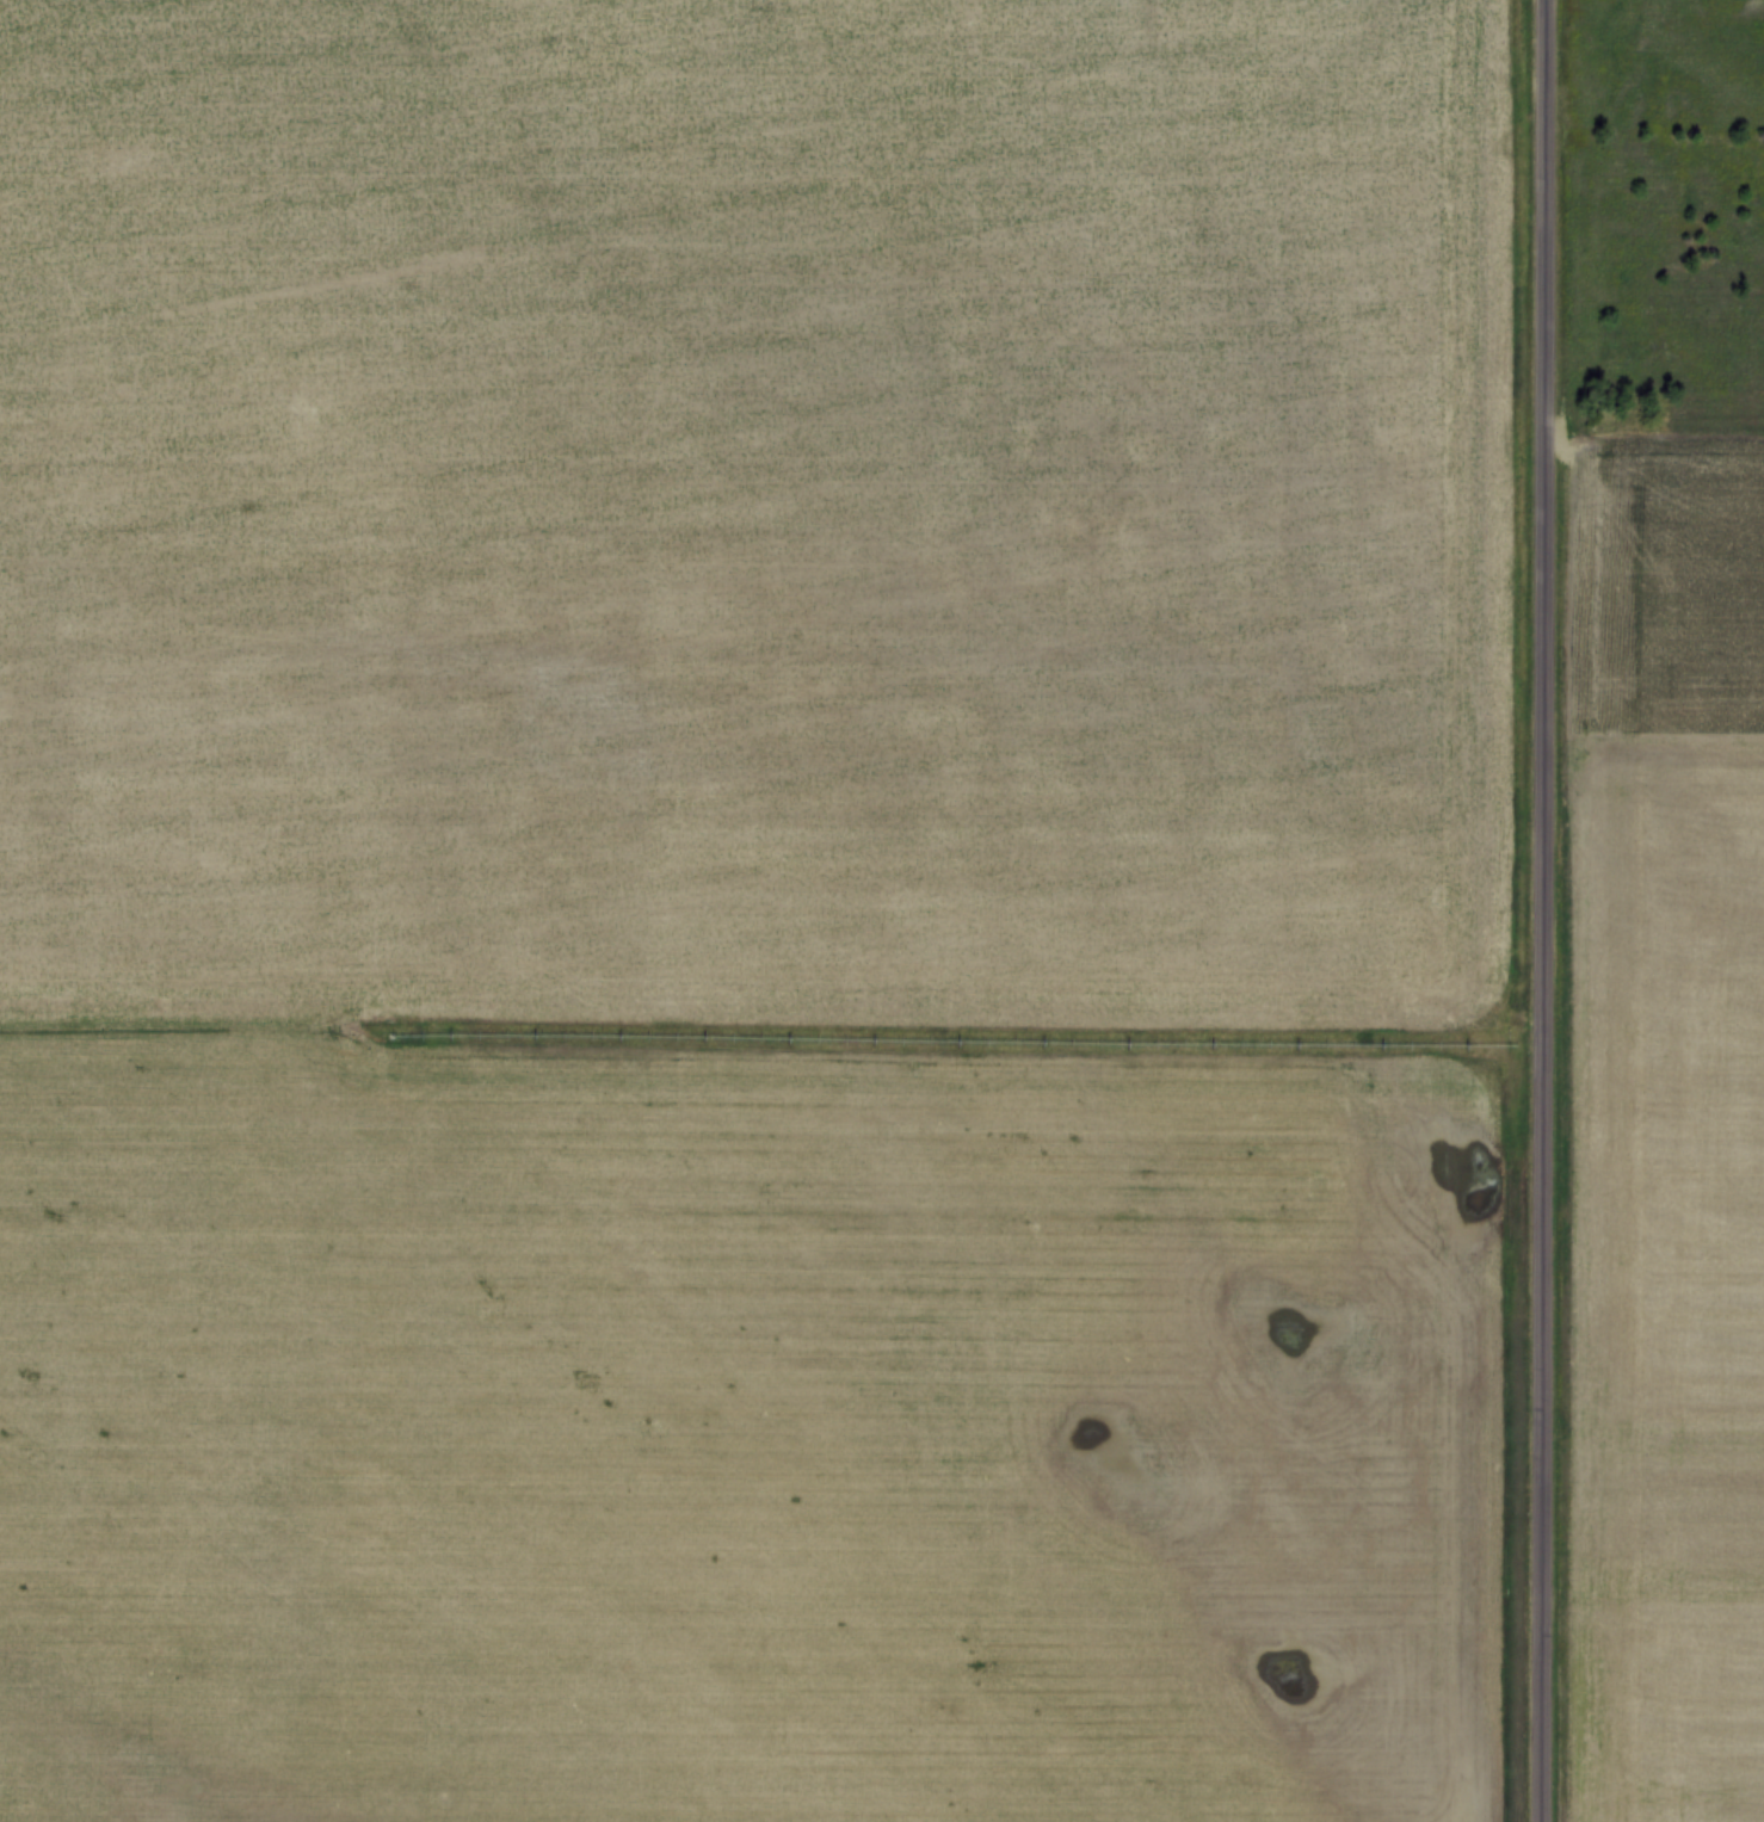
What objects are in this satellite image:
road: (1540, 910)

